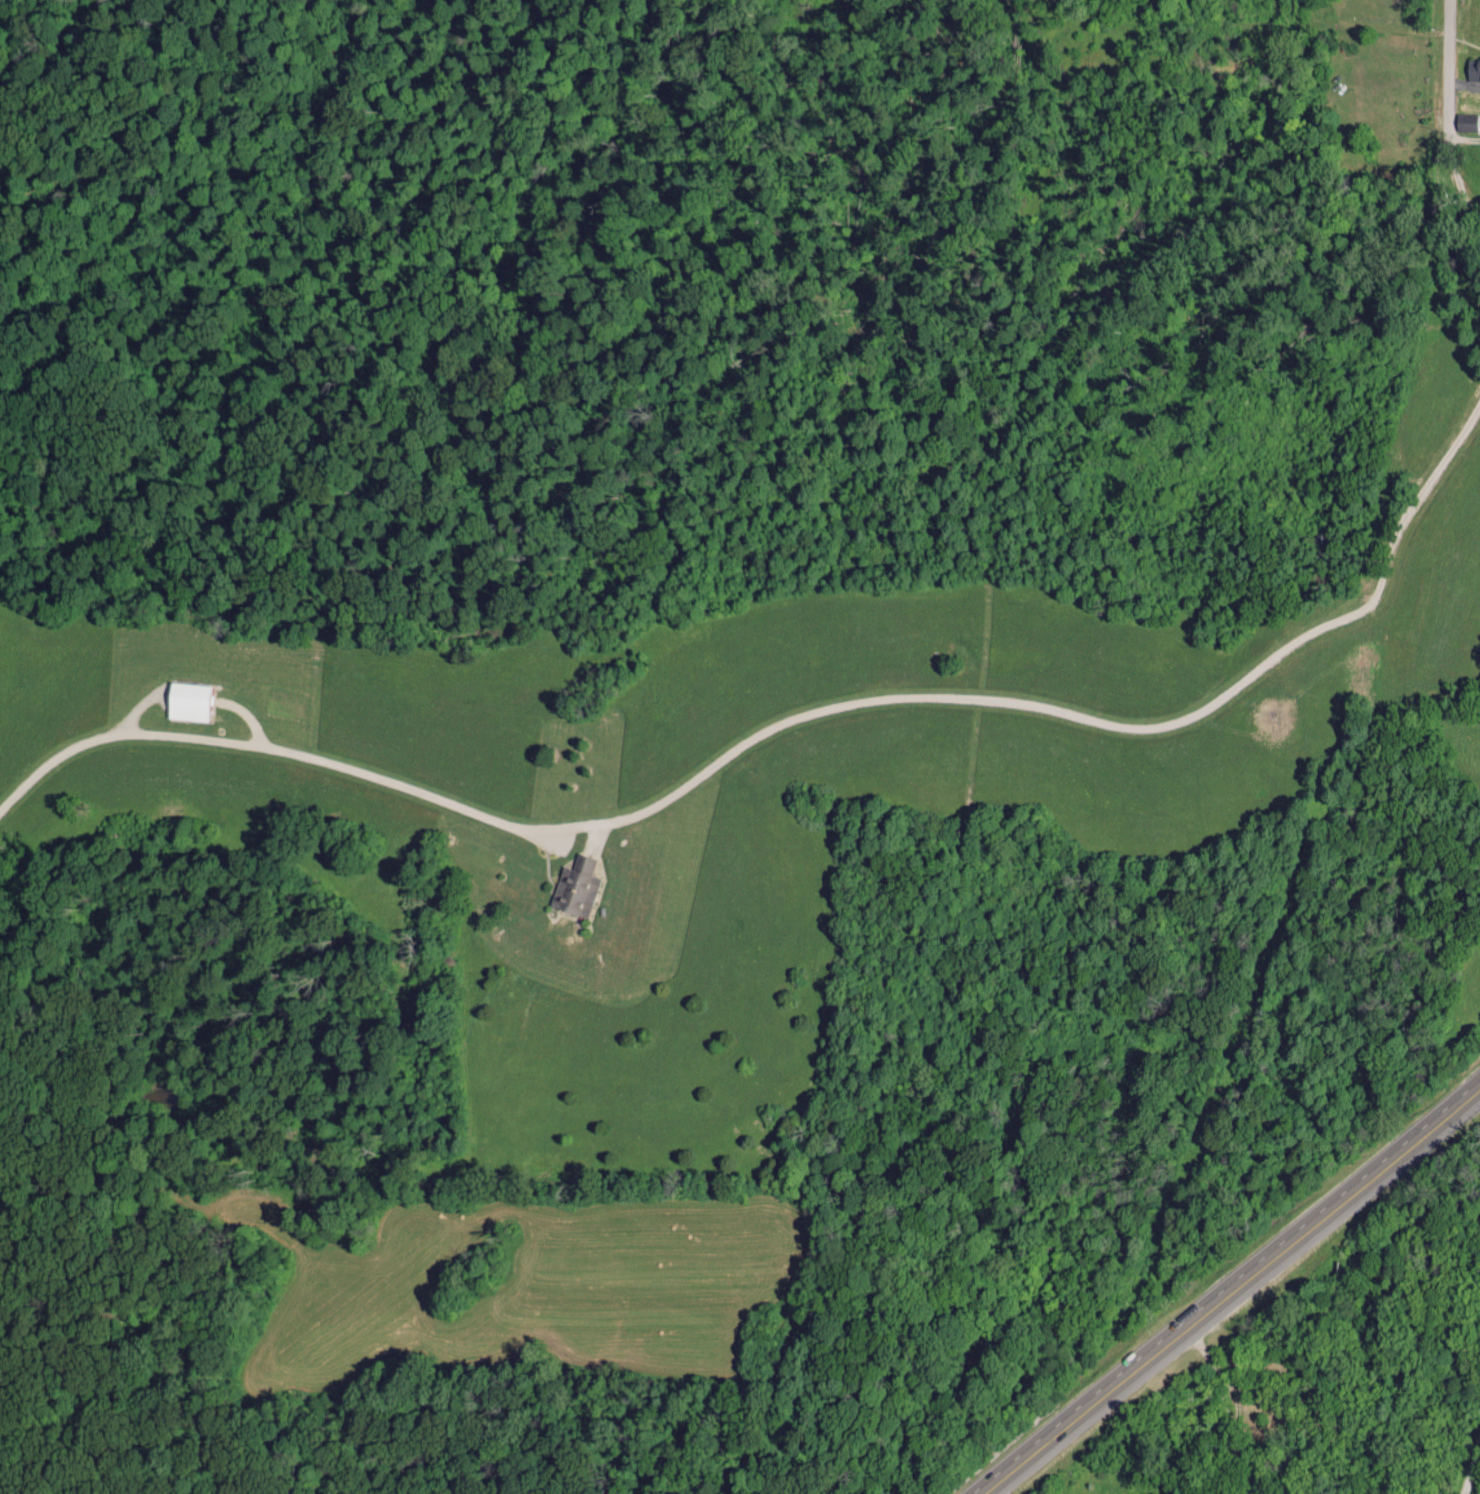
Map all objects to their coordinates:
building: (1472, 69)
road: (1449, 71)
building: (1465, 121)
road: (1464, 175)
road: (915, 700)
building: (186, 701)
road: (111, 735)
building: (574, 887)
road: (1232, 1290)
road: (1469, 1463)

